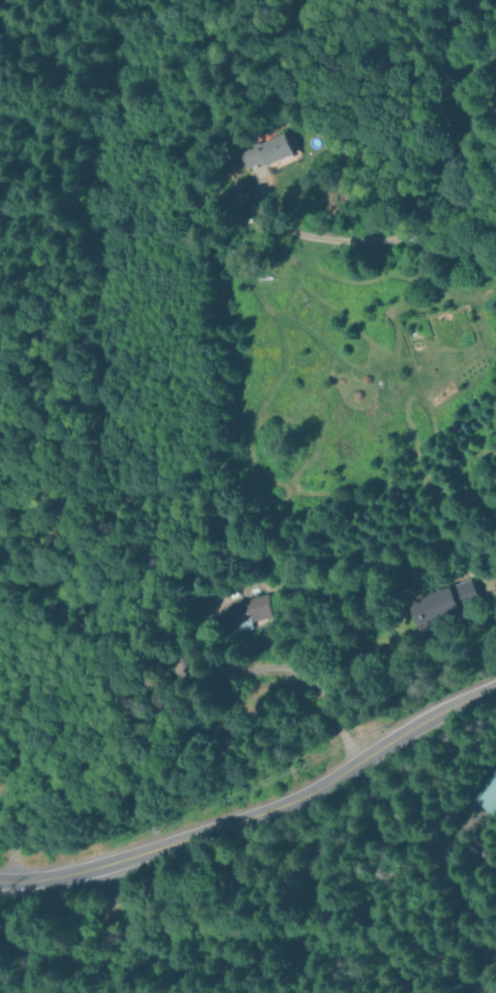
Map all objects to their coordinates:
building: (257, 151)
building: (433, 602)
building: (246, 611)
road: (294, 642)
building: (483, 794)
road: (258, 807)
building: (486, 990)

